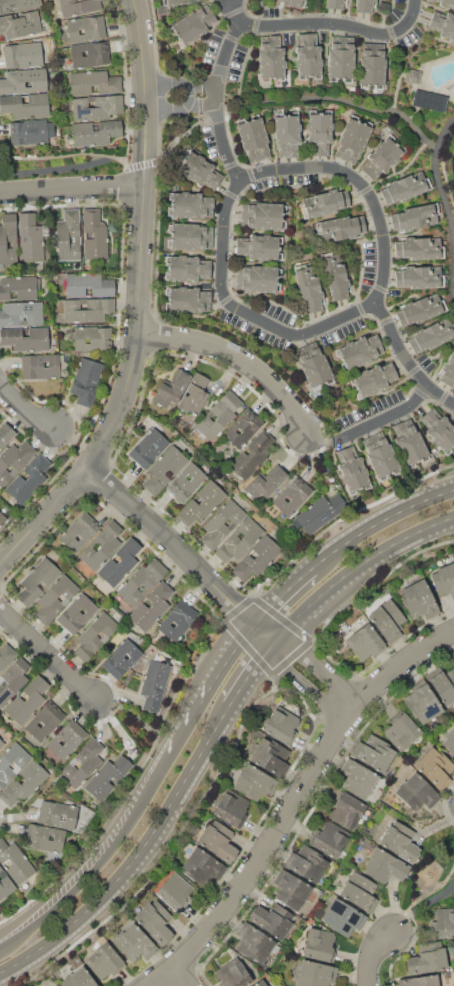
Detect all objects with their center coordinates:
building: (178, 2)
building: (296, 2)
building: (444, 2)
building: (19, 4)
building: (335, 4)
building: (365, 5)
building: (78, 7)
road: (340, 22)
building: (20, 24)
building: (443, 24)
building: (192, 25)
building: (85, 28)
building: (22, 54)
building: (89, 54)
building: (308, 56)
building: (271, 58)
building: (341, 58)
building: (372, 65)
building: (412, 76)
building: (24, 81)
building: (93, 82)
road: (219, 89)
road: (207, 93)
road: (196, 95)
road: (340, 100)
building: (429, 100)
building: (25, 105)
building: (96, 107)
building: (31, 131)
building: (95, 132)
building: (320, 132)
building: (287, 134)
building: (253, 138)
building: (353, 139)
road: (421, 143)
building: (383, 157)
road: (75, 165)
building: (198, 170)
road: (441, 185)
building: (405, 187)
road: (73, 191)
building: (325, 203)
building: (190, 205)
building: (263, 216)
building: (417, 217)
building: (340, 228)
building: (68, 235)
building: (94, 235)
building: (8, 237)
building: (189, 237)
road: (387, 238)
building: (30, 239)
building: (259, 246)
building: (418, 248)
building: (187, 268)
building: (335, 275)
building: (418, 276)
building: (258, 278)
building: (88, 285)
building: (18, 287)
building: (308, 288)
building: (187, 300)
road: (147, 306)
building: (87, 309)
building: (420, 309)
road: (250, 310)
building: (20, 313)
building: (432, 335)
building: (92, 337)
building: (26, 338)
building: (359, 351)
road: (243, 359)
building: (39, 367)
building: (315, 368)
building: (448, 371)
building: (372, 380)
building: (86, 381)
building: (174, 387)
building: (194, 395)
road: (25, 406)
building: (219, 416)
road: (389, 421)
building: (244, 427)
building: (438, 430)
building: (6, 434)
building: (409, 443)
building: (149, 447)
road: (74, 448)
building: (252, 455)
building: (380, 456)
building: (15, 461)
building: (164, 469)
building: (352, 470)
building: (28, 480)
building: (186, 482)
building: (267, 482)
building: (292, 496)
building: (201, 503)
building: (320, 512)
building: (2, 519)
building: (222, 523)
road: (379, 524)
building: (79, 531)
building: (240, 540)
building: (101, 544)
building: (257, 558)
building: (121, 562)
road: (358, 570)
building: (37, 580)
building: (444, 580)
building: (142, 581)
road: (222, 589)
road: (283, 596)
building: (55, 598)
building: (419, 600)
building: (152, 606)
building: (77, 613)
building: (178, 620)
building: (387, 620)
building: (95, 635)
building: (364, 642)
building: (6, 656)
road: (50, 657)
building: (122, 658)
road: (254, 673)
building: (12, 680)
building: (155, 685)
building: (444, 685)
road: (212, 688)
building: (27, 700)
building: (422, 704)
building: (46, 721)
road: (140, 722)
building: (282, 726)
building: (401, 732)
building: (67, 739)
building: (449, 740)
building: (1, 744)
building: (375, 753)
building: (270, 756)
building: (83, 762)
building: (5, 763)
building: (435, 767)
building: (107, 777)
building: (359, 780)
building: (253, 782)
building: (24, 783)
building: (417, 792)
road: (291, 802)
building: (231, 807)
building: (347, 811)
building: (57, 814)
road: (129, 825)
building: (44, 838)
building: (330, 839)
building: (218, 841)
building: (399, 841)
road: (137, 859)
building: (15, 861)
building: (307, 863)
building: (384, 865)
building: (202, 867)
building: (5, 883)
building: (292, 890)
building: (360, 892)
building: (176, 893)
road: (421, 908)
road: (39, 917)
building: (344, 917)
building: (272, 919)
building: (154, 921)
building: (444, 923)
building: (135, 943)
building: (254, 944)
building: (319, 944)
road: (373, 956)
building: (427, 961)
building: (104, 962)
building: (315, 974)
building: (232, 975)
building: (78, 978)
road: (181, 978)
building: (419, 981)
building: (259, 983)
building: (54, 985)

